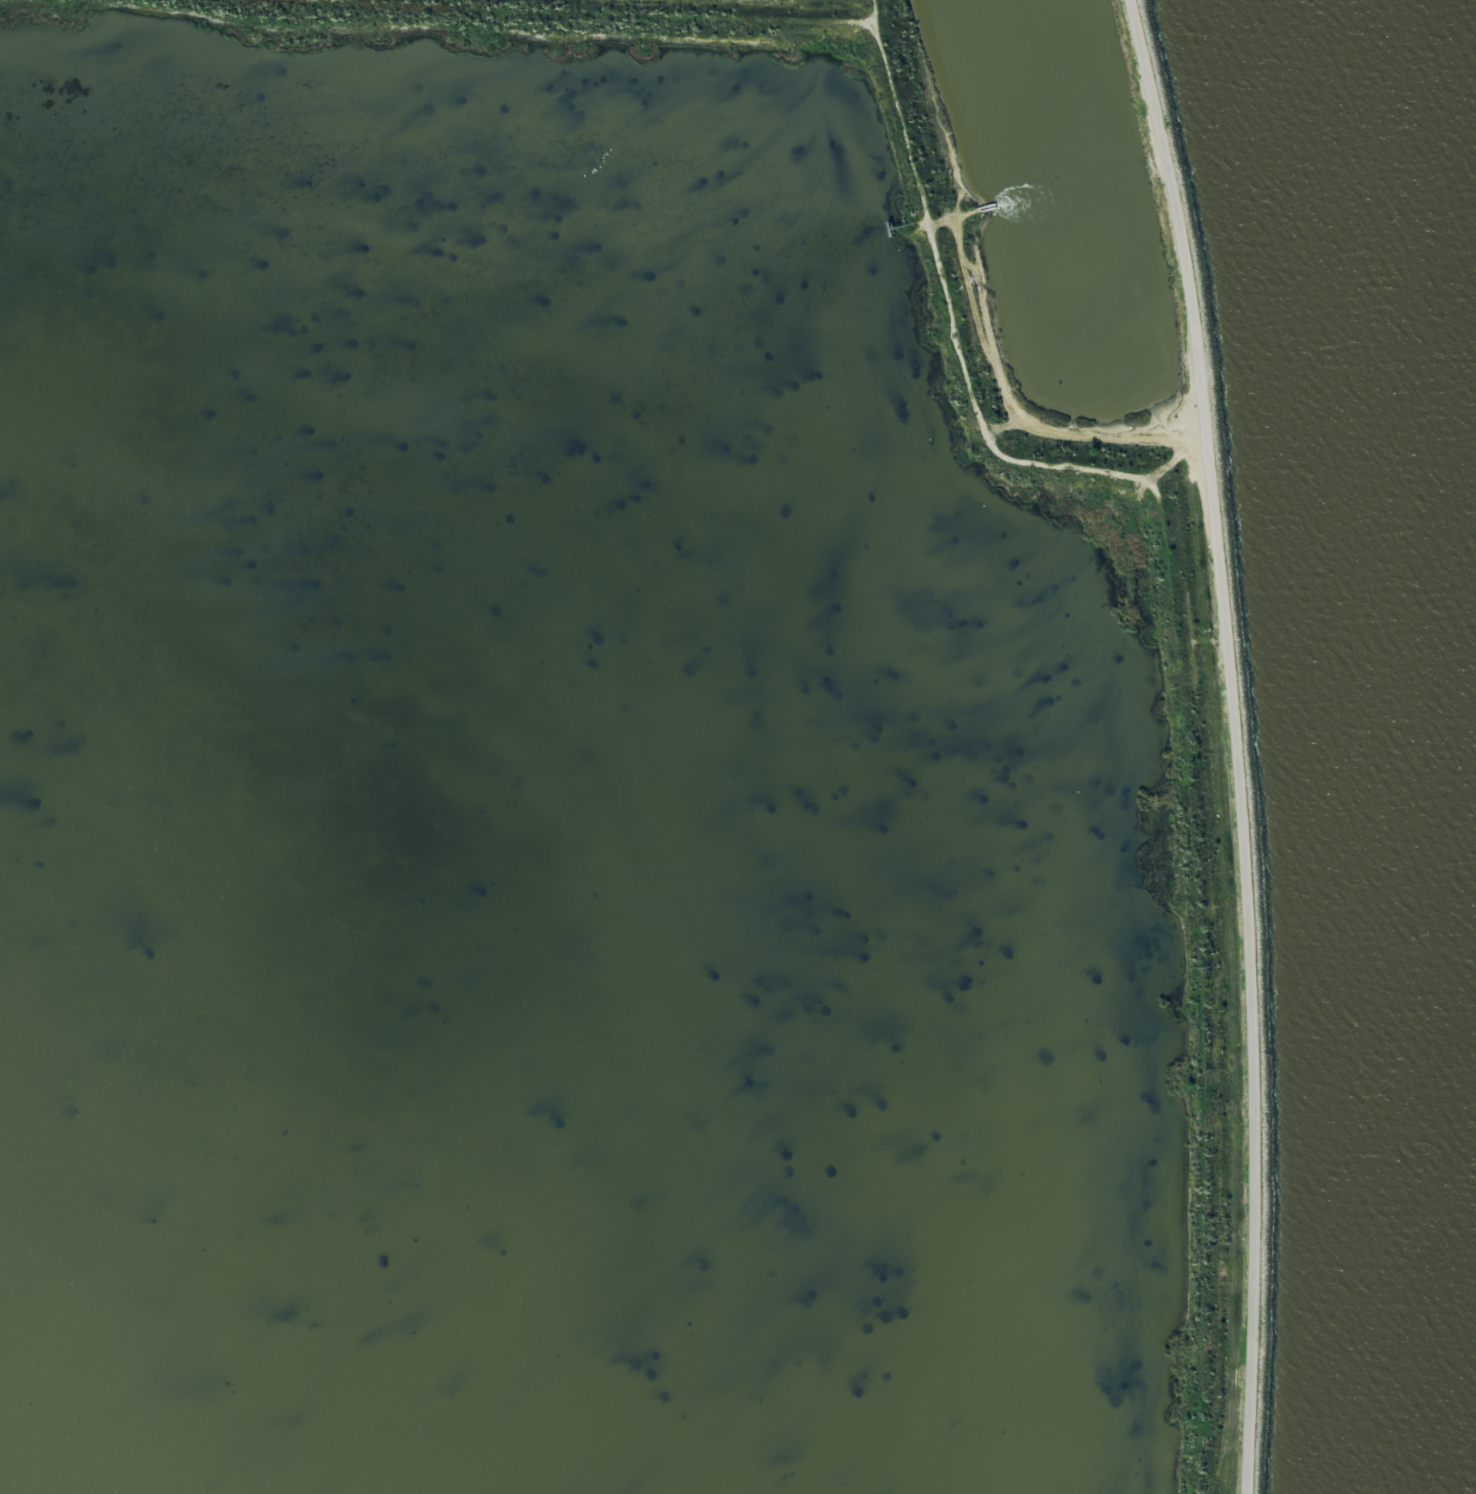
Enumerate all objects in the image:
road: (1233, 743)

